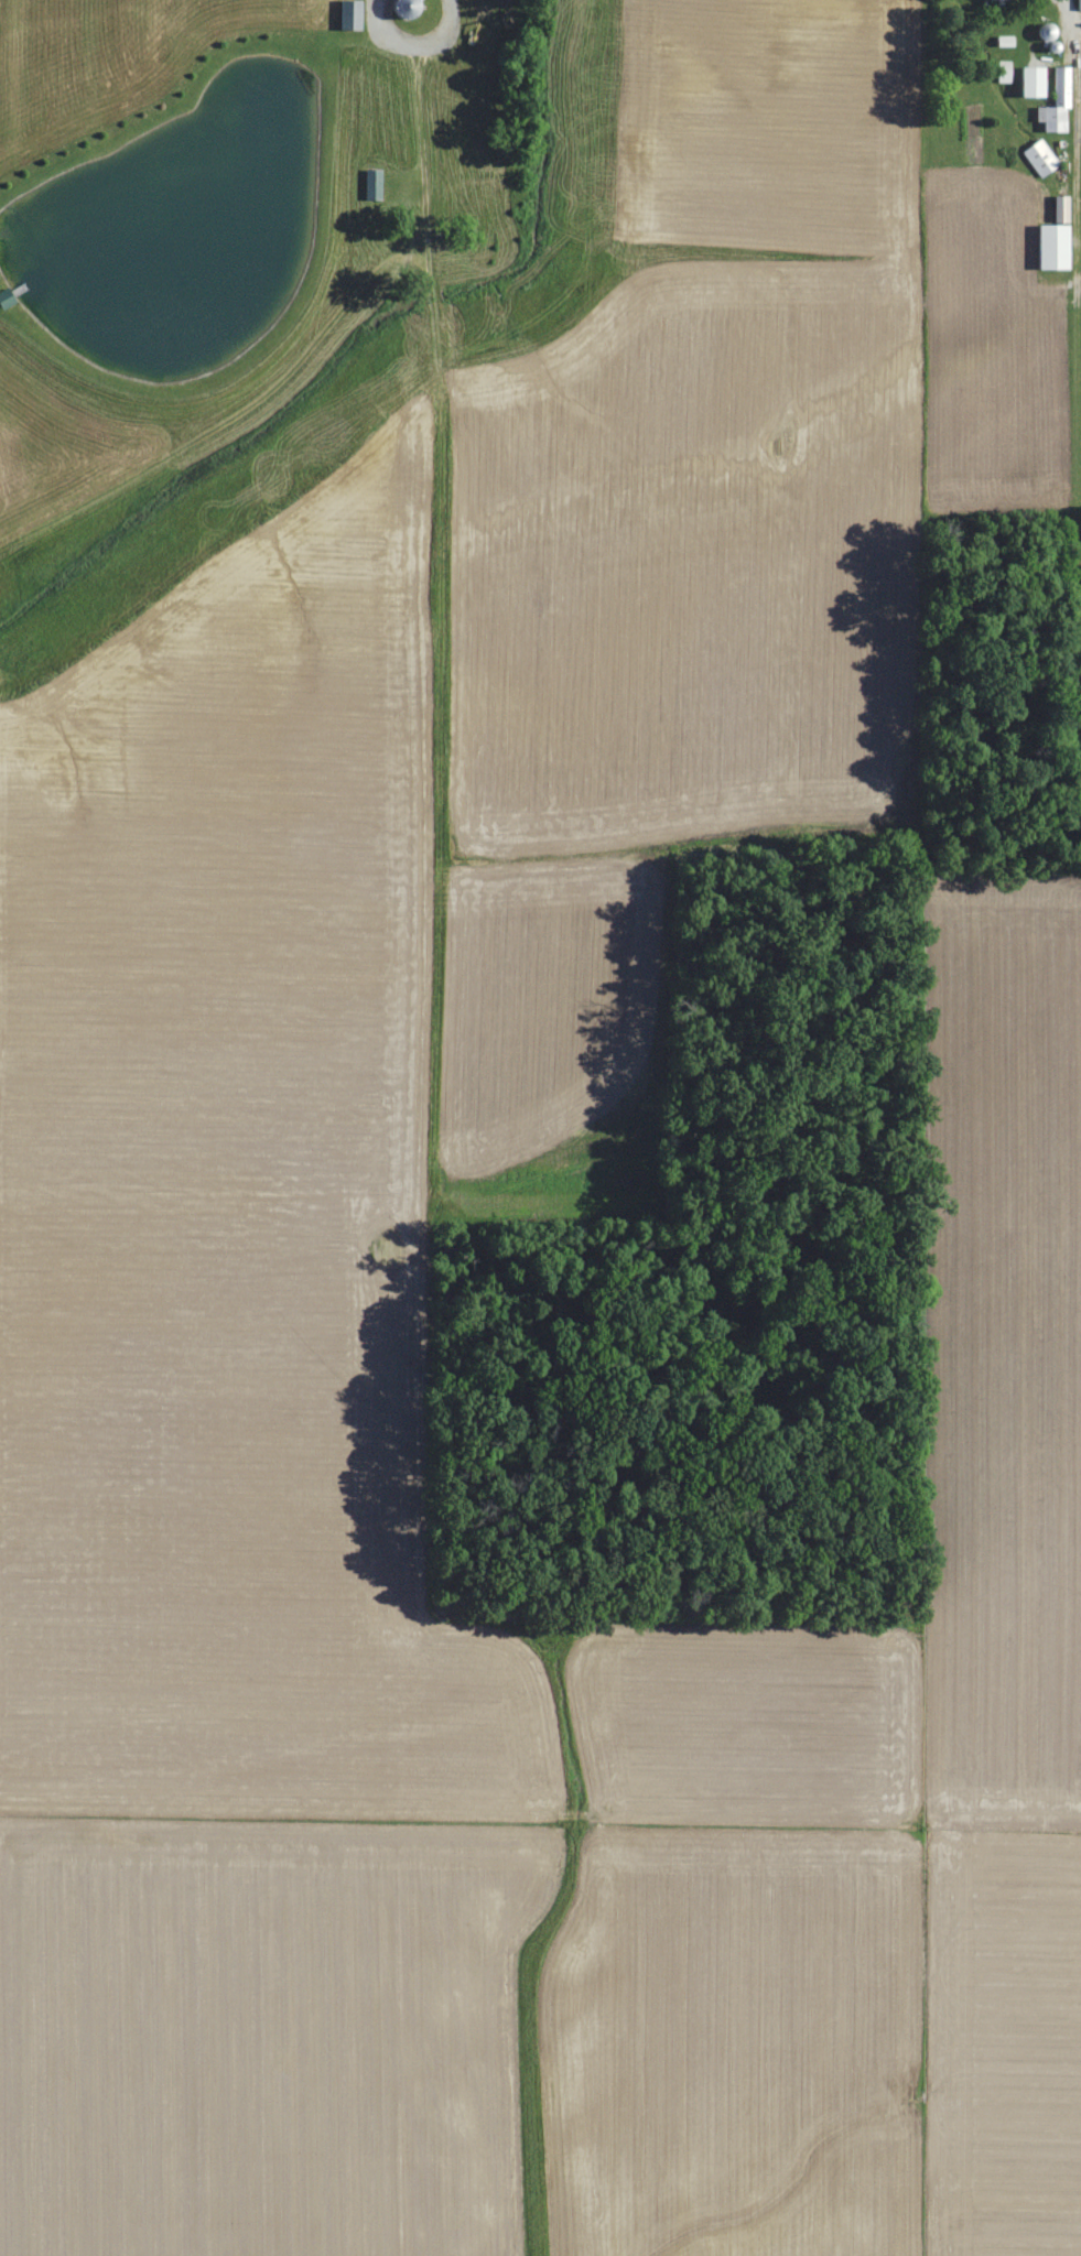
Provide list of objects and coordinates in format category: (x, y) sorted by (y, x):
building: (1077, 0)
building: (404, 9)
silo: (404, 9)
building: (349, 13)
road: (415, 43)
building: (1002, 72)
building: (1029, 83)
building: (1055, 101)
building: (1038, 158)
building: (370, 185)
building: (1057, 210)
road: (407, 373)
crop: (1002, 1352)

